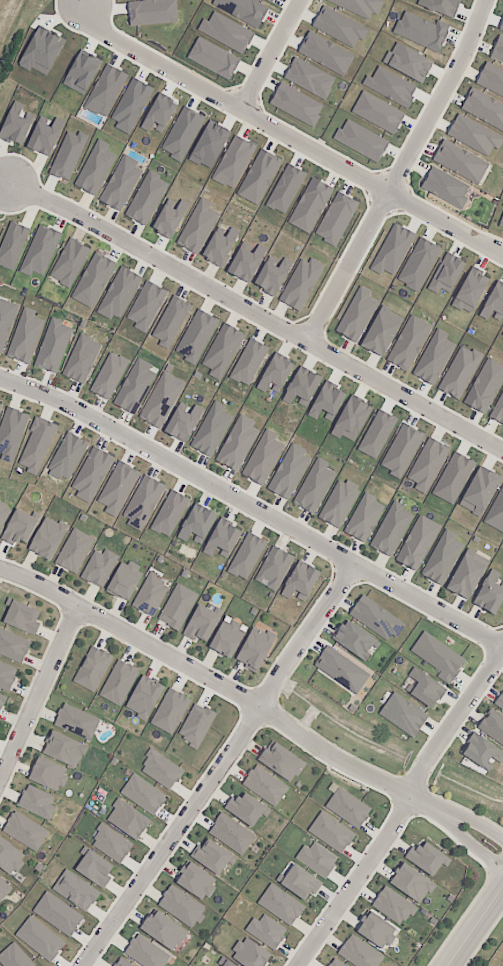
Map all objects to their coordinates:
building: (270, 0)
building: (359, 6)
building: (440, 6)
building: (243, 10)
building: (339, 27)
road: (23, 49)
building: (497, 50)
road: (272, 54)
building: (334, 61)
building: (491, 79)
building: (104, 90)
building: (484, 108)
building: (16, 124)
building: (474, 135)
building: (45, 136)
road: (292, 136)
building: (68, 155)
building: (460, 162)
building: (95, 168)
road: (400, 171)
building: (121, 183)
building: (146, 198)
building: (169, 218)
building: (197, 226)
building: (12, 245)
building: (220, 245)
building: (40, 251)
building: (246, 261)
building: (69, 263)
building: (272, 275)
building: (93, 280)
building: (301, 284)
building: (118, 293)
building: (146, 306)
road: (259, 312)
building: (356, 315)
building: (6, 320)
building: (170, 322)
building: (381, 331)
building: (196, 336)
building: (28, 339)
building: (409, 343)
building: (55, 349)
building: (222, 350)
building: (433, 357)
building: (81, 359)
building: (248, 362)
building: (459, 372)
building: (275, 374)
building: (109, 375)
building: (485, 385)
building: (134, 386)
building: (302, 387)
building: (160, 399)
building: (327, 401)
building: (0, 406)
building: (498, 410)
building: (351, 418)
building: (183, 422)
building: (212, 429)
building: (12, 430)
building: (377, 434)
building: (237, 443)
building: (36, 445)
building: (401, 450)
building: (67, 457)
building: (263, 458)
building: (427, 464)
building: (288, 472)
building: (91, 474)
building: (453, 478)
building: (314, 486)
building: (117, 488)
building: (479, 491)
building: (0, 497)
building: (143, 502)
building: (343, 505)
road: (253, 508)
building: (496, 512)
building: (169, 513)
building: (4, 517)
building: (366, 520)
building: (196, 524)
building: (391, 529)
building: (24, 530)
building: (52, 541)
building: (226, 541)
building: (417, 543)
building: (78, 553)
building: (441, 557)
building: (250, 559)
building: (102, 570)
building: (276, 571)
building: (467, 574)
building: (129, 581)
building: (300, 582)
building: (154, 594)
building: (492, 596)
building: (179, 609)
building: (21, 612)
building: (376, 619)
building: (205, 626)
building: (355, 640)
building: (233, 642)
building: (13, 646)
building: (261, 652)
building: (438, 657)
building: (96, 672)
building: (345, 672)
building: (7, 675)
road: (220, 682)
building: (122, 684)
building: (425, 688)
road: (39, 693)
building: (2, 696)
building: (147, 699)
building: (501, 706)
building: (173, 714)
building: (403, 715)
building: (75, 719)
building: (494, 727)
building: (199, 728)
building: (61, 746)
building: (482, 753)
building: (285, 764)
road: (219, 765)
building: (164, 772)
building: (51, 777)
building: (269, 789)
building: (146, 798)
building: (41, 805)
road: (401, 810)
building: (351, 811)
building: (249, 813)
building: (128, 819)
road: (470, 819)
building: (30, 835)
building: (334, 835)
building: (235, 836)
road: (467, 839)
building: (115, 847)
building: (215, 860)
building: (11, 861)
building: (319, 862)
building: (430, 863)
building: (94, 868)
building: (196, 880)
building: (414, 886)
building: (304, 887)
building: (75, 890)
building: (5, 893)
building: (280, 905)
building: (180, 906)
building: (396, 909)
building: (57, 914)
road: (460, 925)
road: (474, 925)
building: (163, 930)
building: (266, 931)
building: (380, 934)
building: (39, 939)
road: (486, 942)
building: (145, 952)
building: (359, 953)
building: (250, 954)
building: (16, 958)
building: (122, 963)
building: (227, 963)
building: (335, 964)

